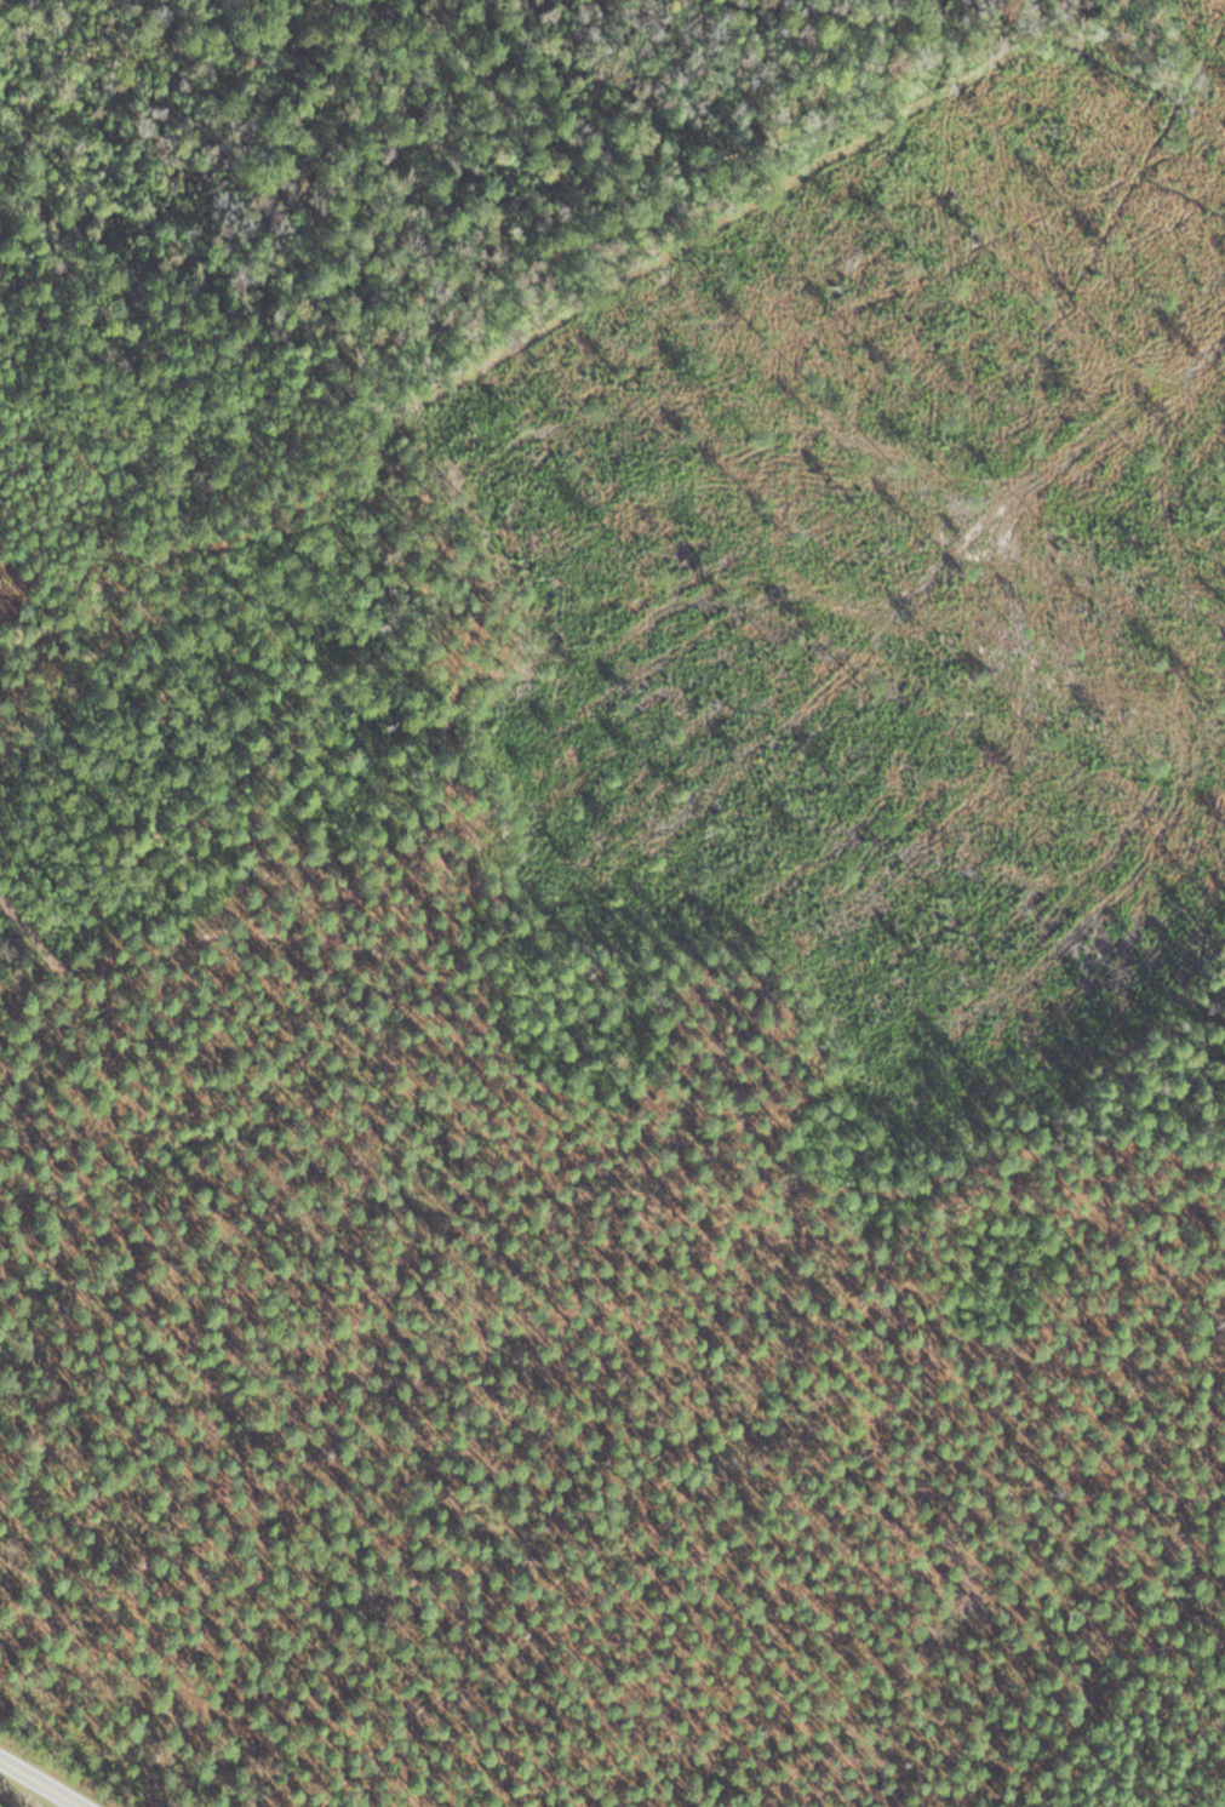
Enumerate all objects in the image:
road: (41, 1782)

